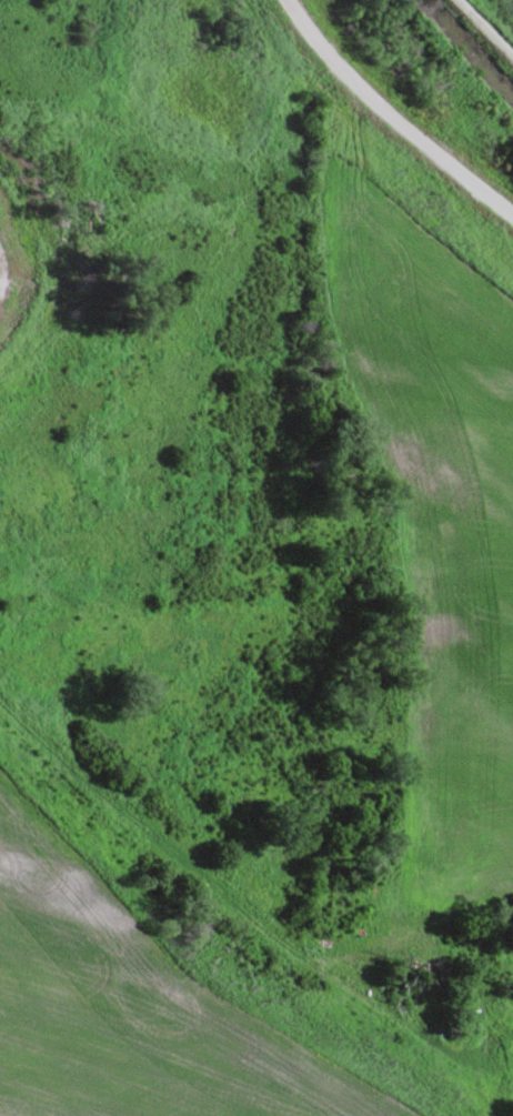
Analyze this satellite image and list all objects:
road: (485, 29)
road: (389, 119)

